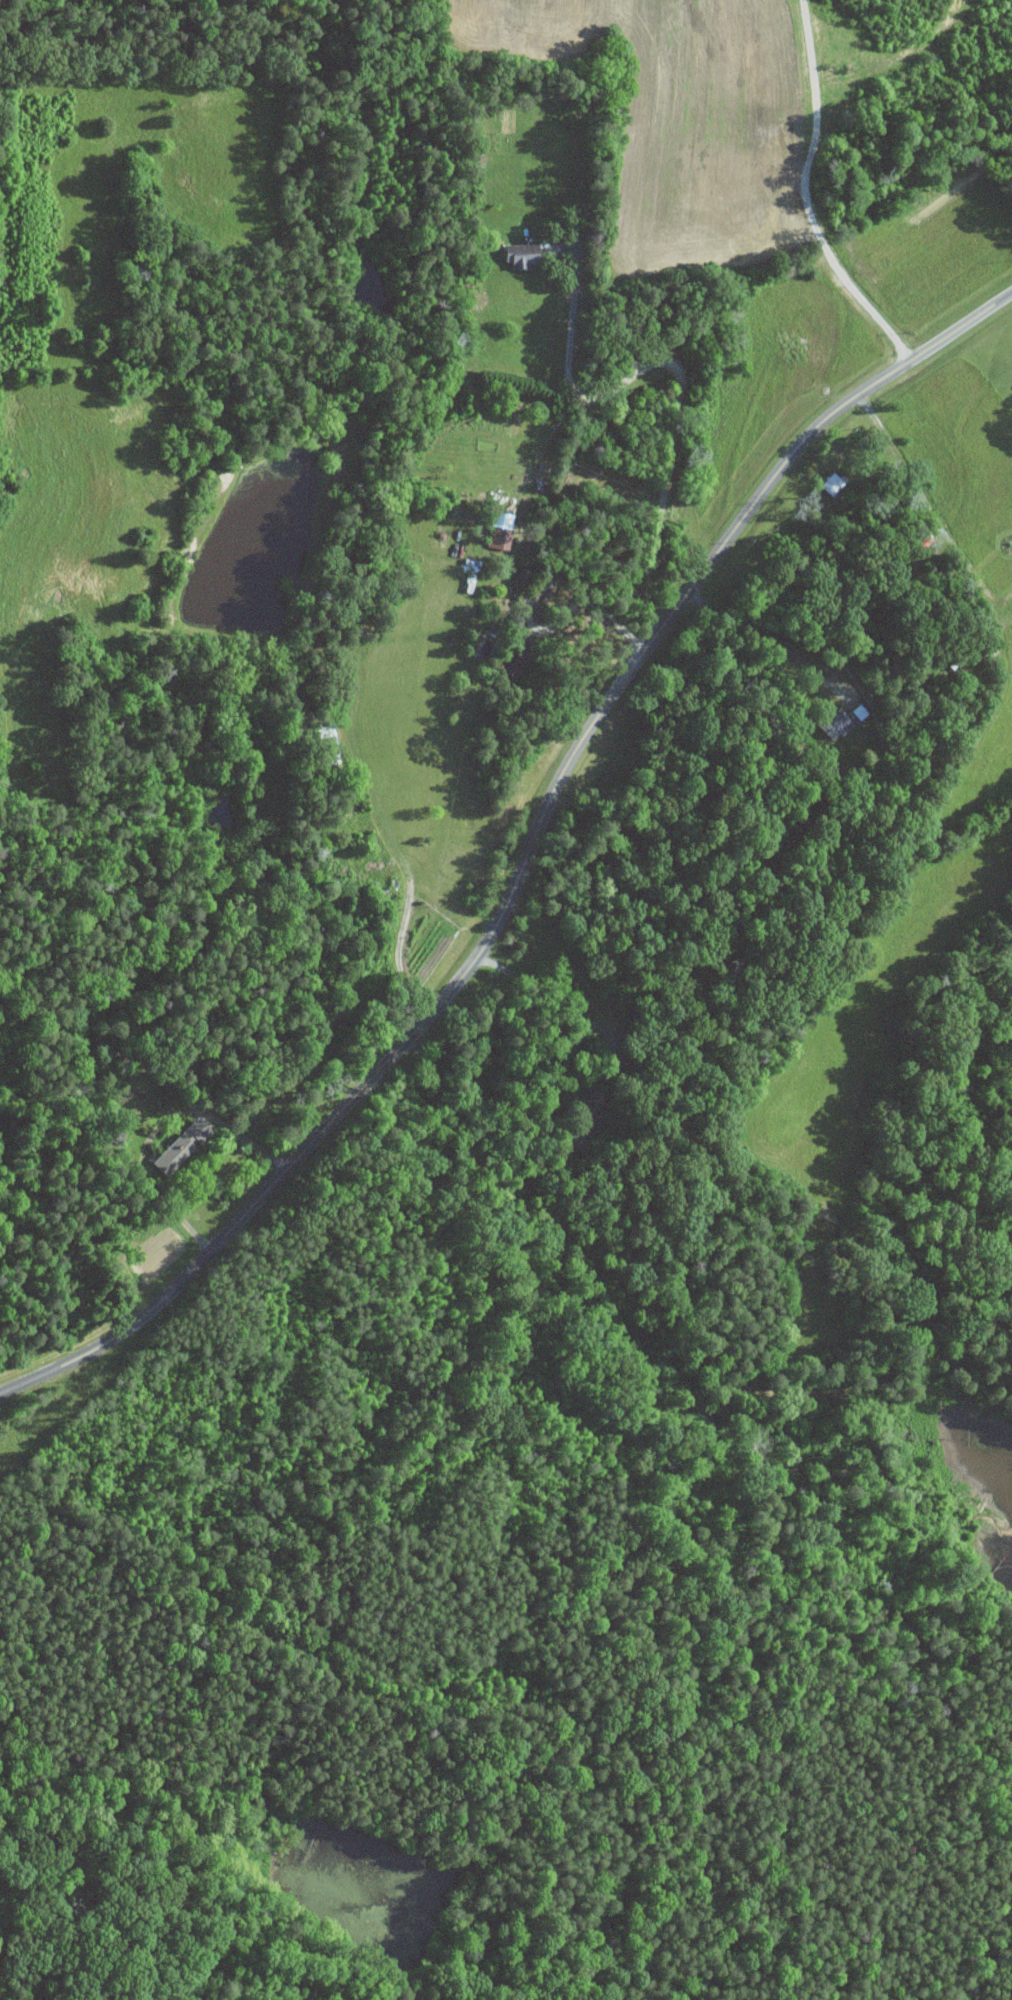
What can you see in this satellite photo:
road: (808, 194)
building: (517, 254)
road: (678, 365)
road: (849, 449)
building: (498, 536)
road: (937, 548)
road: (550, 582)
road: (769, 642)
building: (832, 725)
road: (400, 857)
road: (524, 859)
road: (452, 910)
road: (558, 1011)
road: (158, 1124)
building: (179, 1147)

